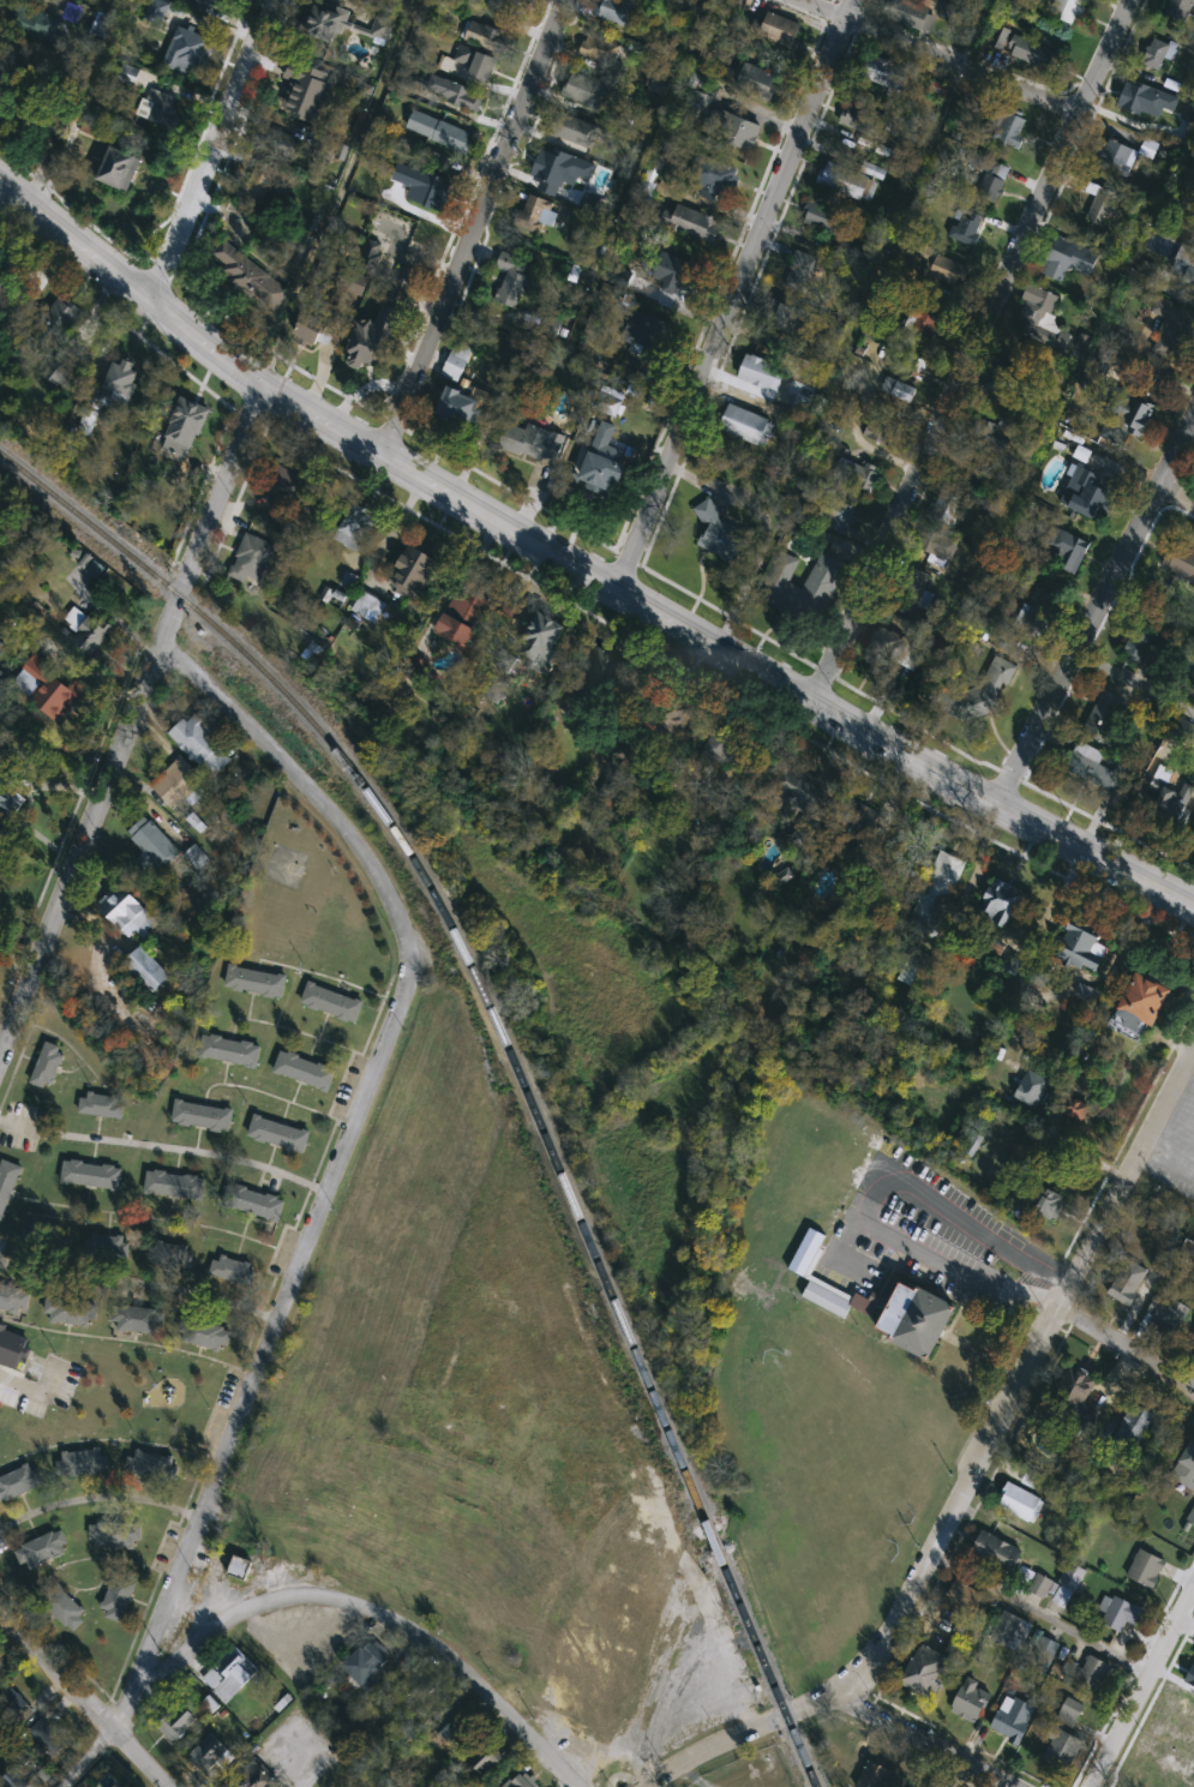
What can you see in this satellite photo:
building: (740, 2)
building: (508, 5)
building: (212, 6)
building: (1180, 10)
building: (158, 11)
building: (1069, 11)
building: (617, 12)
building: (330, 23)
building: (48, 26)
building: (773, 34)
building: (487, 36)
building: (601, 50)
building: (191, 53)
road: (947, 53)
building: (1034, 54)
building: (1159, 54)
building: (475, 64)
building: (886, 73)
building: (758, 80)
building: (586, 91)
building: (456, 94)
building: (306, 95)
building: (1145, 97)
building: (167, 109)
building: (864, 120)
building: (730, 128)
building: (95, 130)
building: (574, 130)
building: (1012, 130)
building: (452, 137)
building: (277, 143)
road: (211, 149)
building: (1118, 157)
building: (1163, 158)
building: (121, 169)
building: (653, 175)
building: (713, 175)
building: (846, 181)
building: (259, 184)
road: (340, 188)
building: (1104, 205)
building: (540, 215)
building: (696, 223)
building: (826, 224)
road: (473, 226)
building: (1192, 227)
building: (1177, 257)
building: (1069, 260)
building: (803, 270)
building: (952, 270)
building: (251, 275)
building: (678, 275)
building: (515, 278)
building: (1193, 293)
road: (736, 294)
building: (1034, 311)
building: (788, 319)
building: (58, 324)
building: (385, 326)
building: (646, 329)
building: (1174, 329)
building: (314, 331)
road: (973, 352)
building: (460, 359)
building: (1019, 371)
building: (766, 373)
building: (127, 379)
building: (607, 396)
building: (463, 407)
building: (887, 412)
building: (1124, 416)
building: (748, 425)
building: (181, 432)
building: (989, 434)
building: (532, 442)
building: (605, 472)
building: (854, 473)
building: (168, 481)
building: (287, 486)
road: (1172, 491)
building: (1085, 494)
building: (947, 509)
building: (356, 524)
road: (763, 528)
building: (722, 530)
building: (936, 544)
building: (1064, 553)
building: (252, 560)
building: (1180, 560)
road: (582, 566)
building: (418, 569)
building: (779, 588)
road: (1087, 595)
building: (900, 598)
building: (372, 606)
building: (470, 610)
building: (1036, 619)
building: (92, 632)
building: (545, 638)
building: (884, 643)
building: (1136, 647)
road: (910, 666)
building: (605, 667)
road: (96, 670)
road: (1127, 677)
building: (50, 689)
building: (978, 692)
building: (1103, 716)
road: (134, 719)
building: (204, 744)
building: (724, 746)
building: (1093, 768)
building: (179, 782)
building: (799, 791)
road: (312, 792)
building: (1172, 802)
building: (8, 804)
building: (852, 826)
building: (152, 844)
building: (935, 894)
building: (1003, 905)
building: (128, 912)
building: (1081, 948)
building: (149, 970)
building: (257, 982)
building: (1139, 999)
building: (334, 1002)
railway: (510, 1048)
building: (230, 1050)
building: (49, 1065)
building: (306, 1071)
building: (102, 1105)
building: (203, 1116)
building: (280, 1134)
road: (164, 1146)
road: (1189, 1158)
road: (1169, 1159)
building: (92, 1175)
building: (175, 1185)
building: (7, 1186)
building: (256, 1203)
building: (1037, 1203)
building: (55, 1242)
building: (106, 1248)
building: (172, 1254)
parking lot: (892, 1254)
road: (942, 1265)
building: (233, 1270)
road: (139, 1279)
building: (1124, 1282)
building: (14, 1299)
building: (68, 1311)
building: (1165, 1312)
building: (914, 1317)
building: (137, 1319)
building: (206, 1335)
building: (1193, 1342)
building: (12, 1344)
road: (1128, 1344)
road: (30, 1381)
road: (250, 1387)
building: (1072, 1392)
building: (1128, 1427)
building: (84, 1463)
building: (154, 1465)
road: (972, 1468)
building: (1184, 1469)
building: (18, 1480)
road: (100, 1497)
building: (1019, 1500)
building: (1192, 1513)
building: (116, 1536)
building: (44, 1549)
building: (995, 1549)
building: (1145, 1566)
building: (241, 1567)
building: (1068, 1582)
building: (1039, 1583)
building: (964, 1594)
building: (120, 1596)
road: (356, 1601)
building: (66, 1608)
road: (1042, 1609)
building: (1117, 1609)
building: (941, 1623)
building: (1008, 1629)
building: (1042, 1651)
building: (370, 1668)
building: (1090, 1668)
building: (923, 1669)
building: (232, 1675)
building: (419, 1685)
road: (1144, 1691)
road: (88, 1697)
building: (968, 1698)
building: (1070, 1709)
building: (1014, 1716)
building: (179, 1720)
building: (30, 1722)
building: (452, 1725)
road: (928, 1740)
building: (1060, 1746)
building: (211, 1755)
road: (313, 1761)
building: (487, 1761)
building: (256, 1776)
building: (871, 1776)
building: (13, 1781)
building: (522, 1781)

